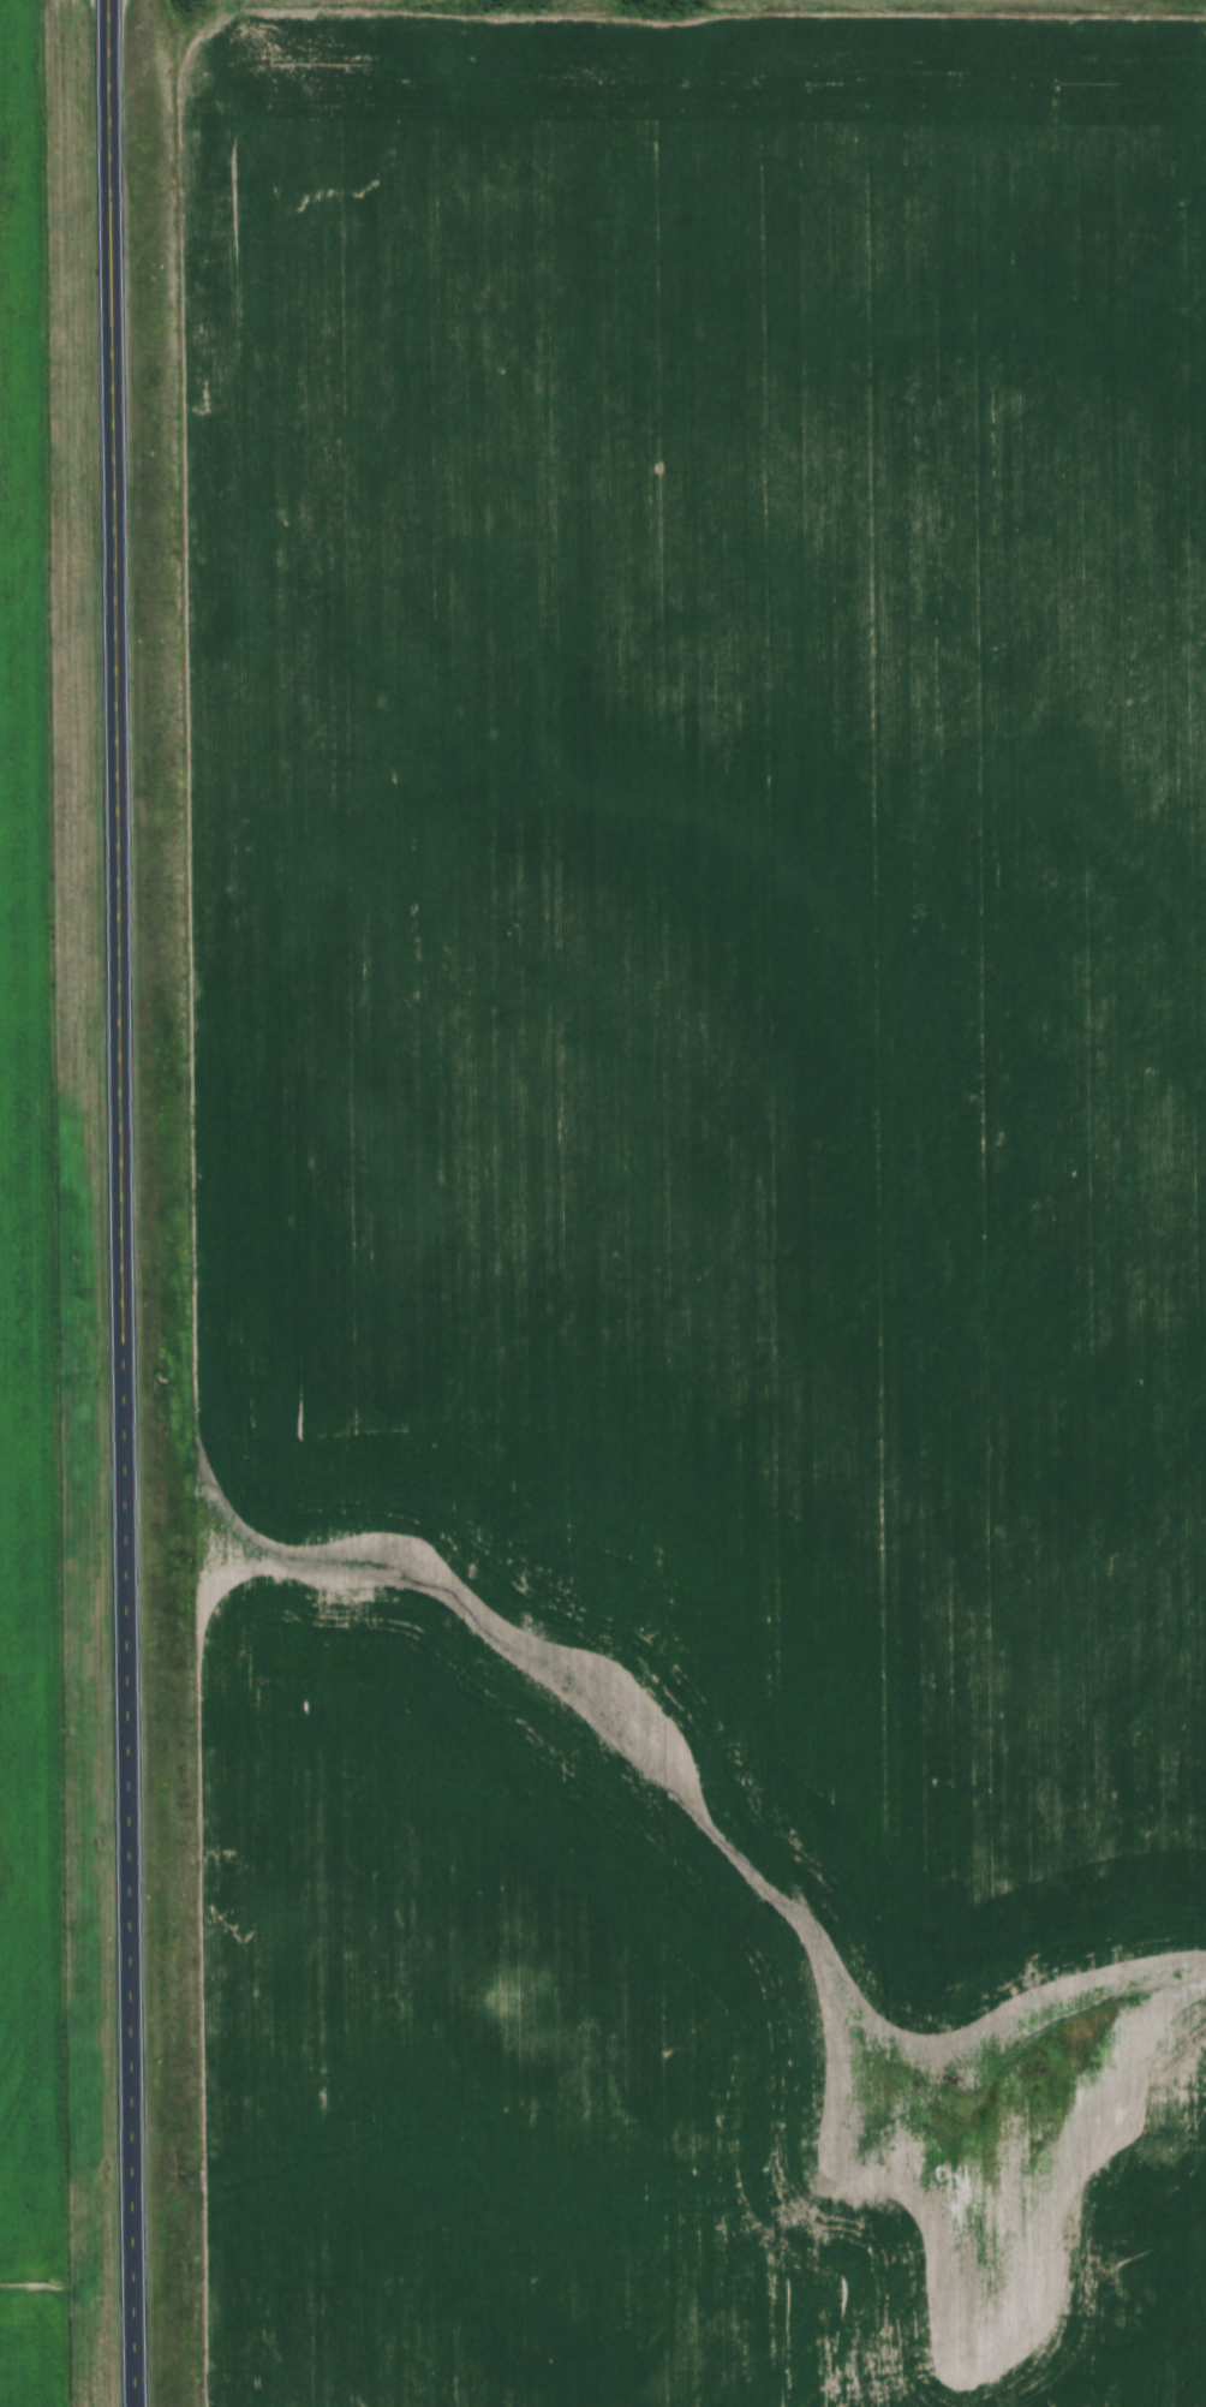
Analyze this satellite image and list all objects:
road: (126, 1068)
road: (131, 2272)

